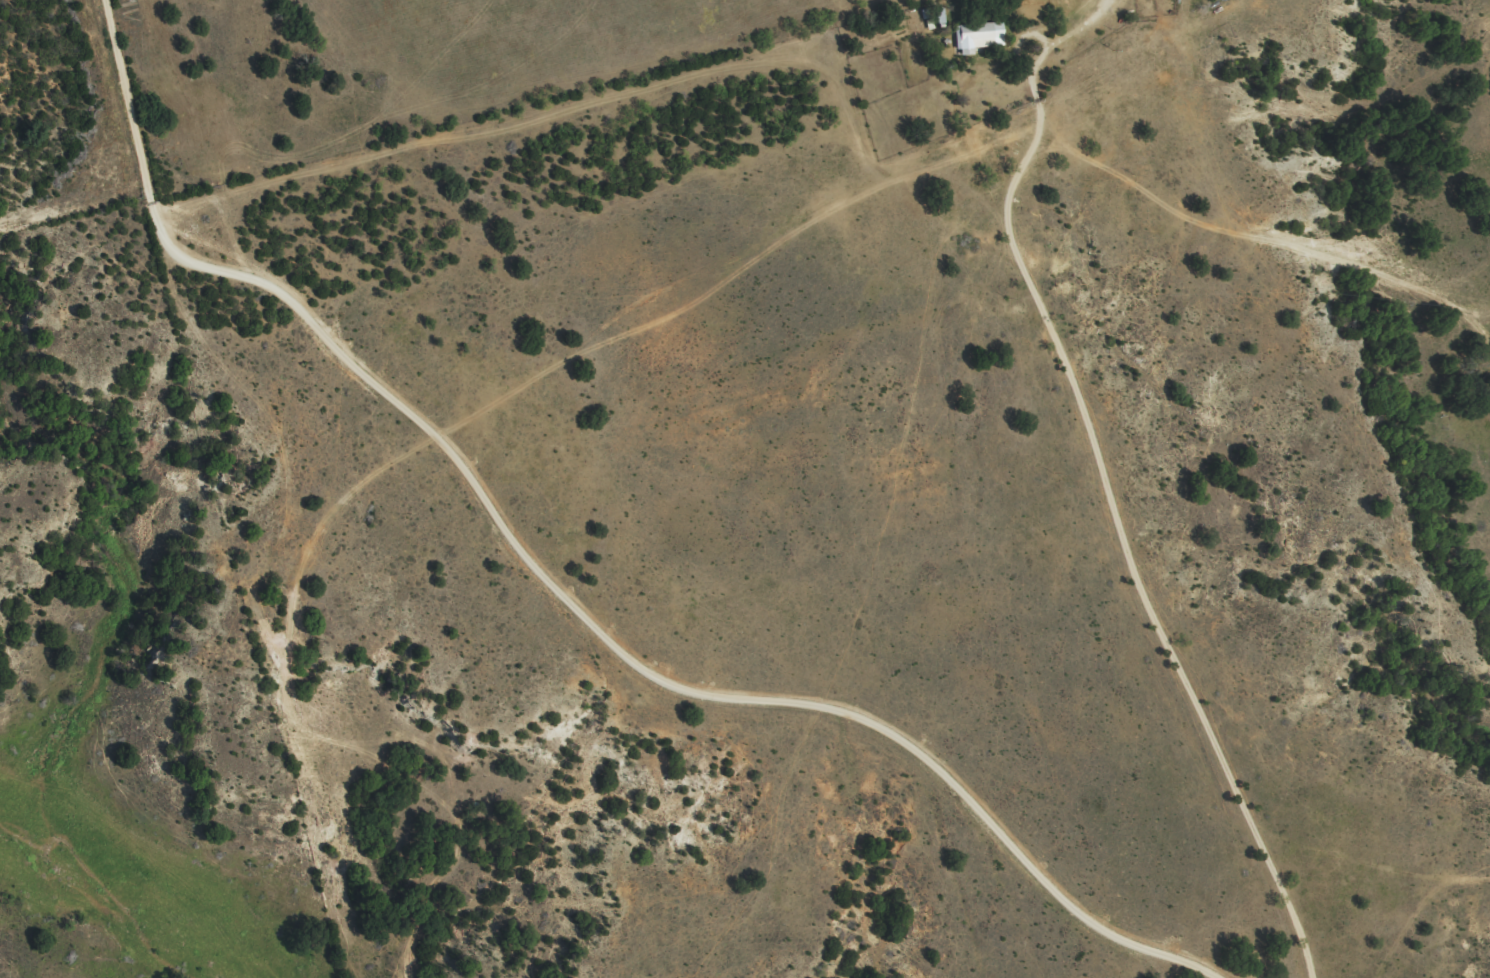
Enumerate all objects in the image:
road: (1027, 36)
building: (976, 44)
road: (113, 80)
road: (1118, 527)
road: (613, 645)

